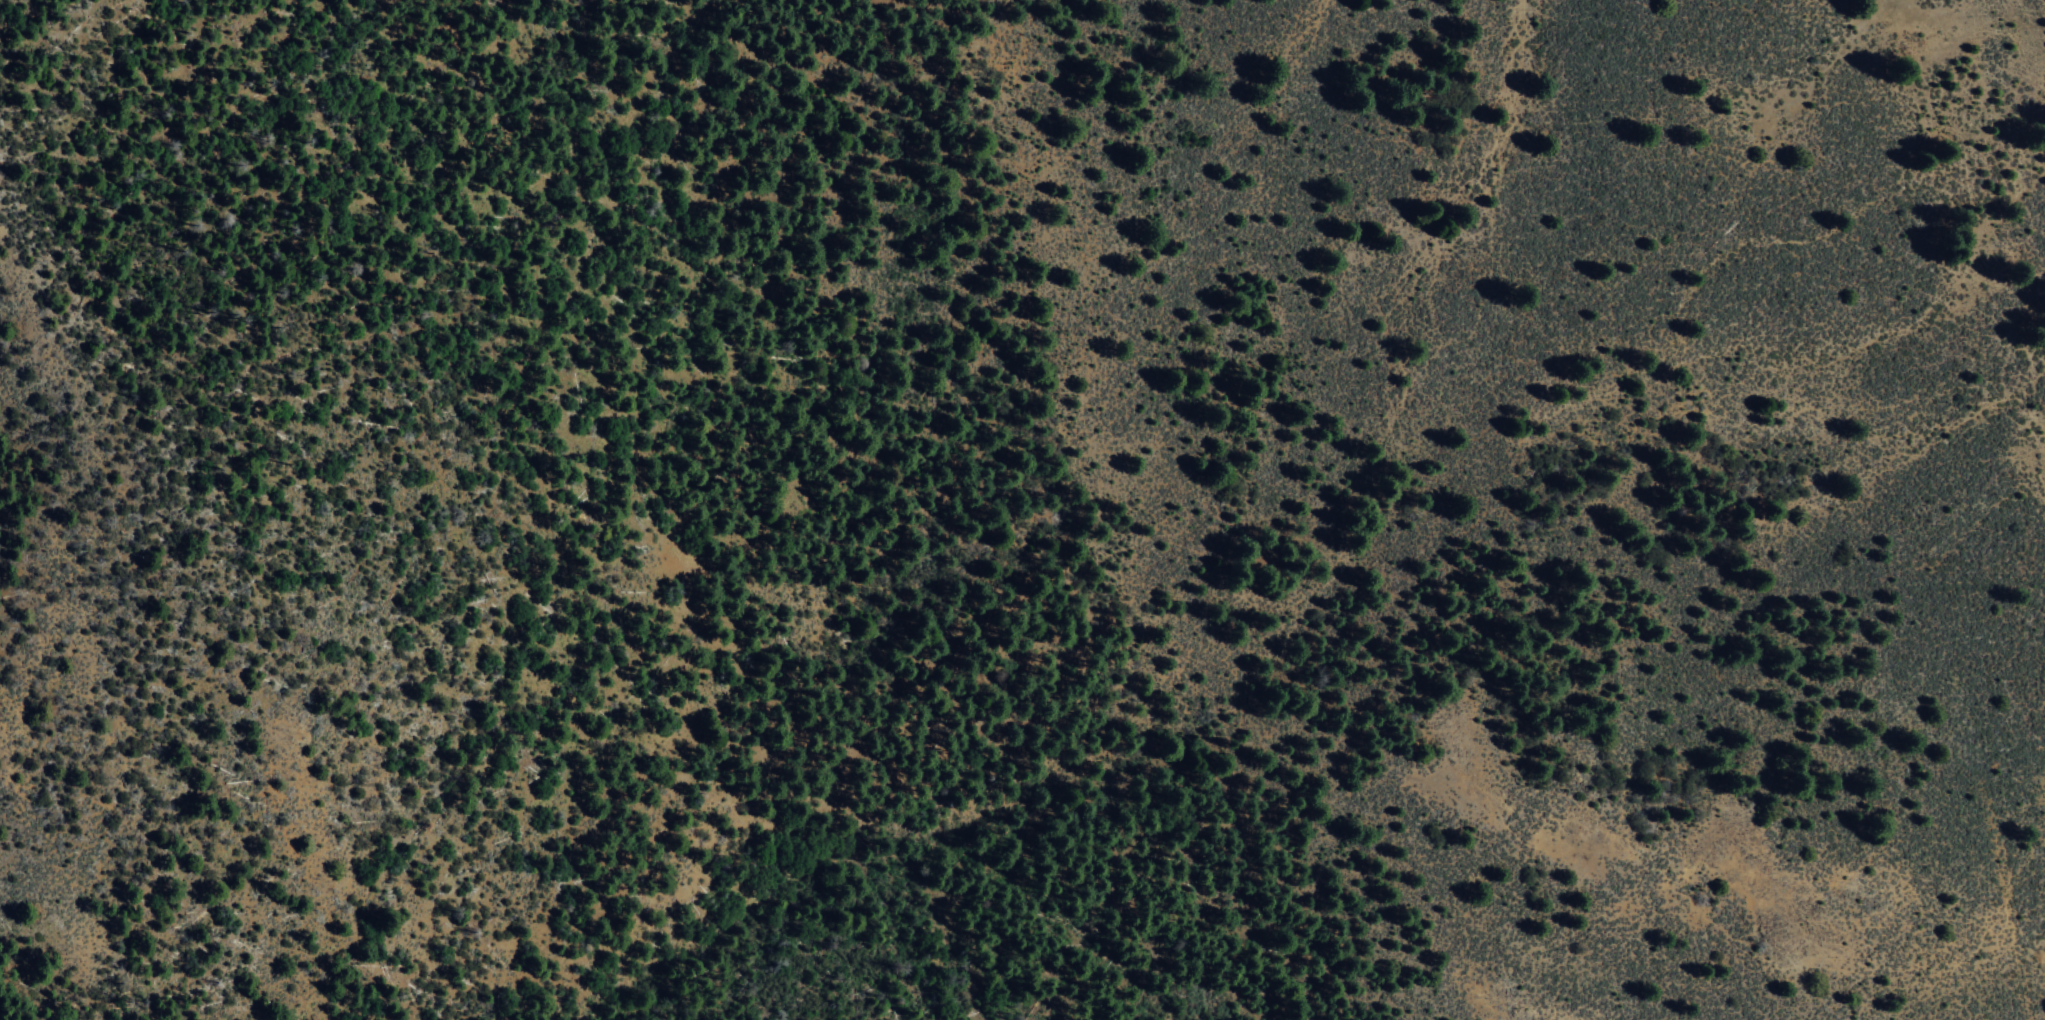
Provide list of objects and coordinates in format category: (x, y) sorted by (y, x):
crop: (2039, 886)

